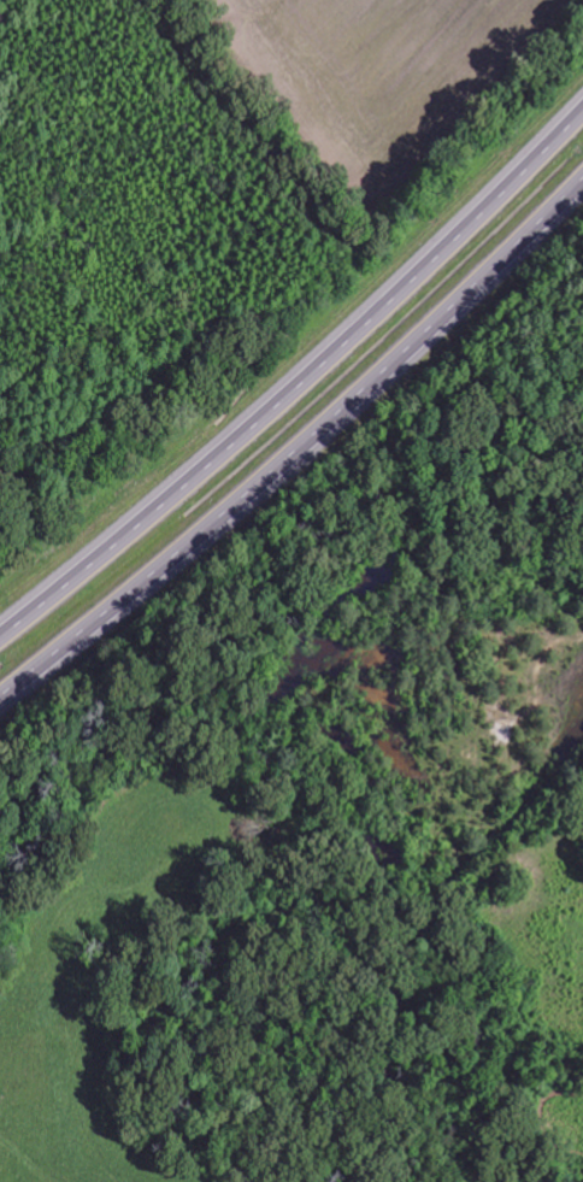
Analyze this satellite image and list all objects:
road: (300, 375)
road: (300, 449)

